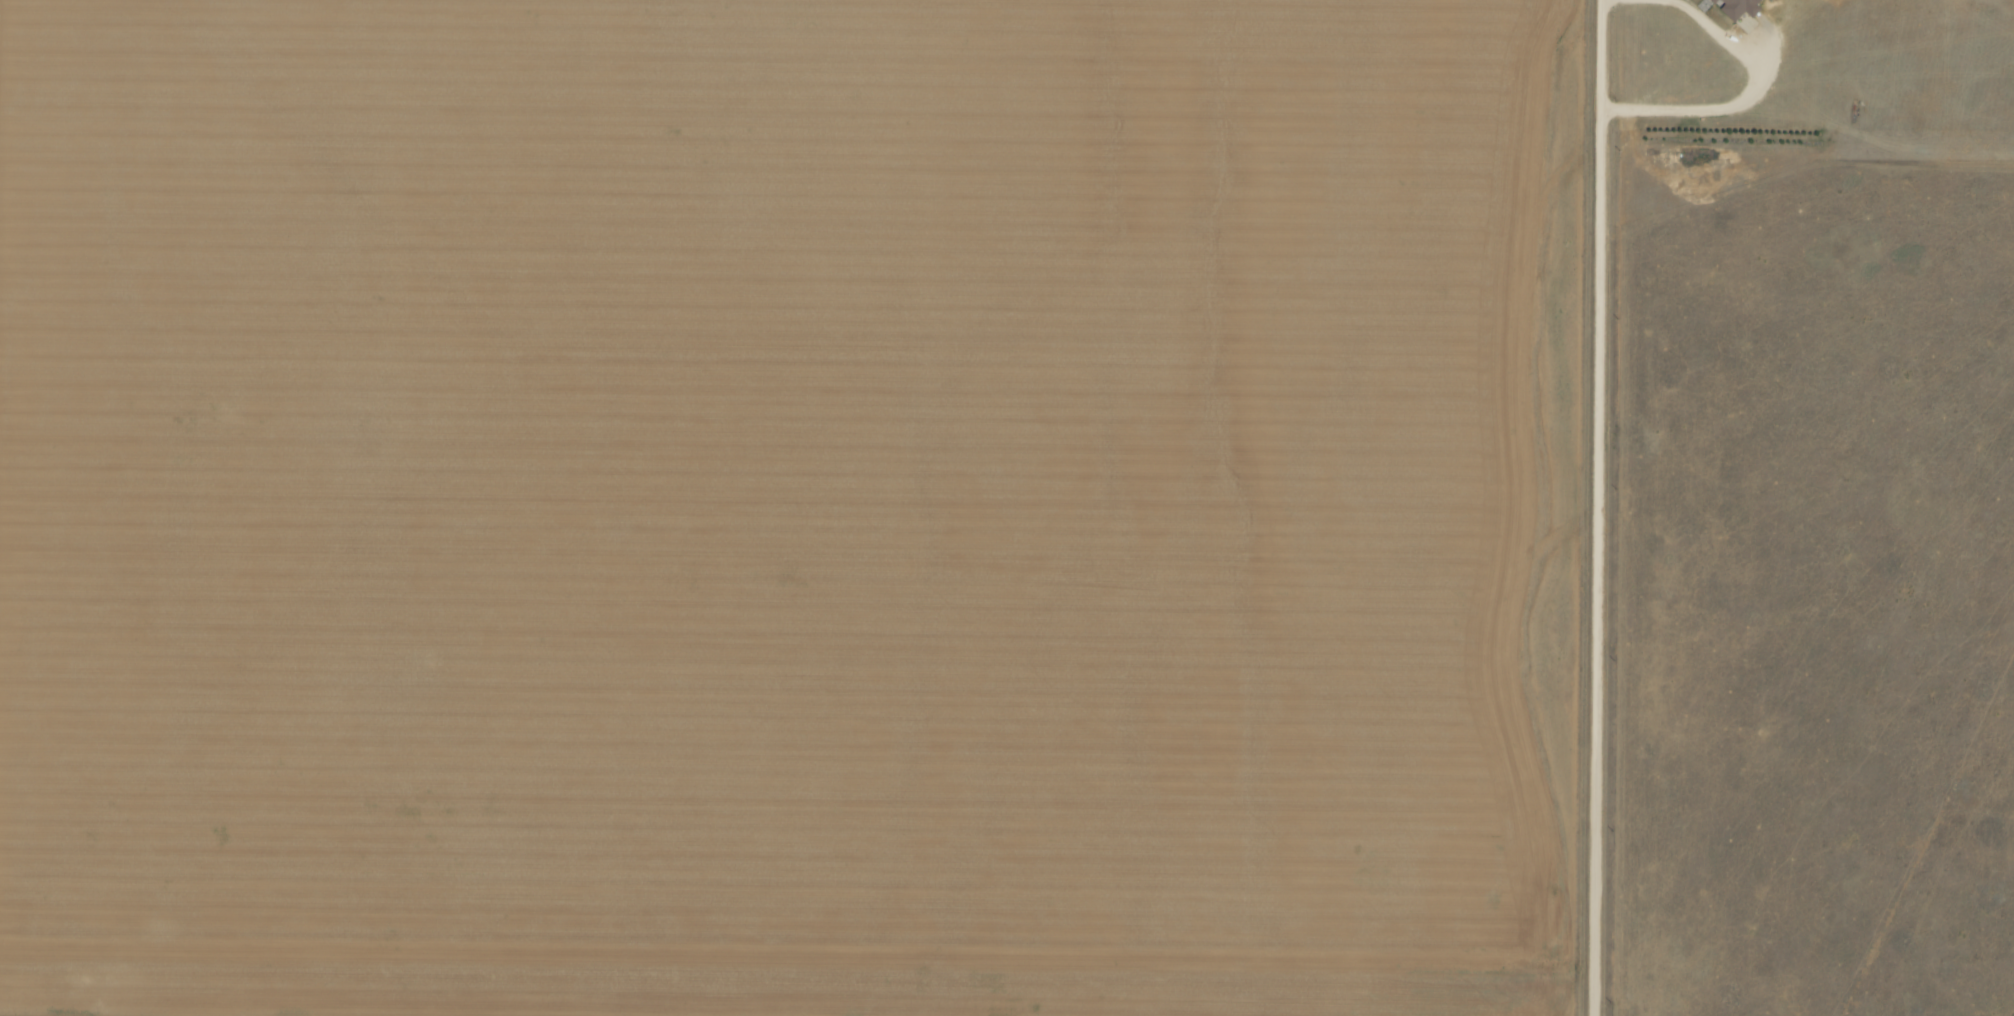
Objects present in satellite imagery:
road: (1600, 507)

